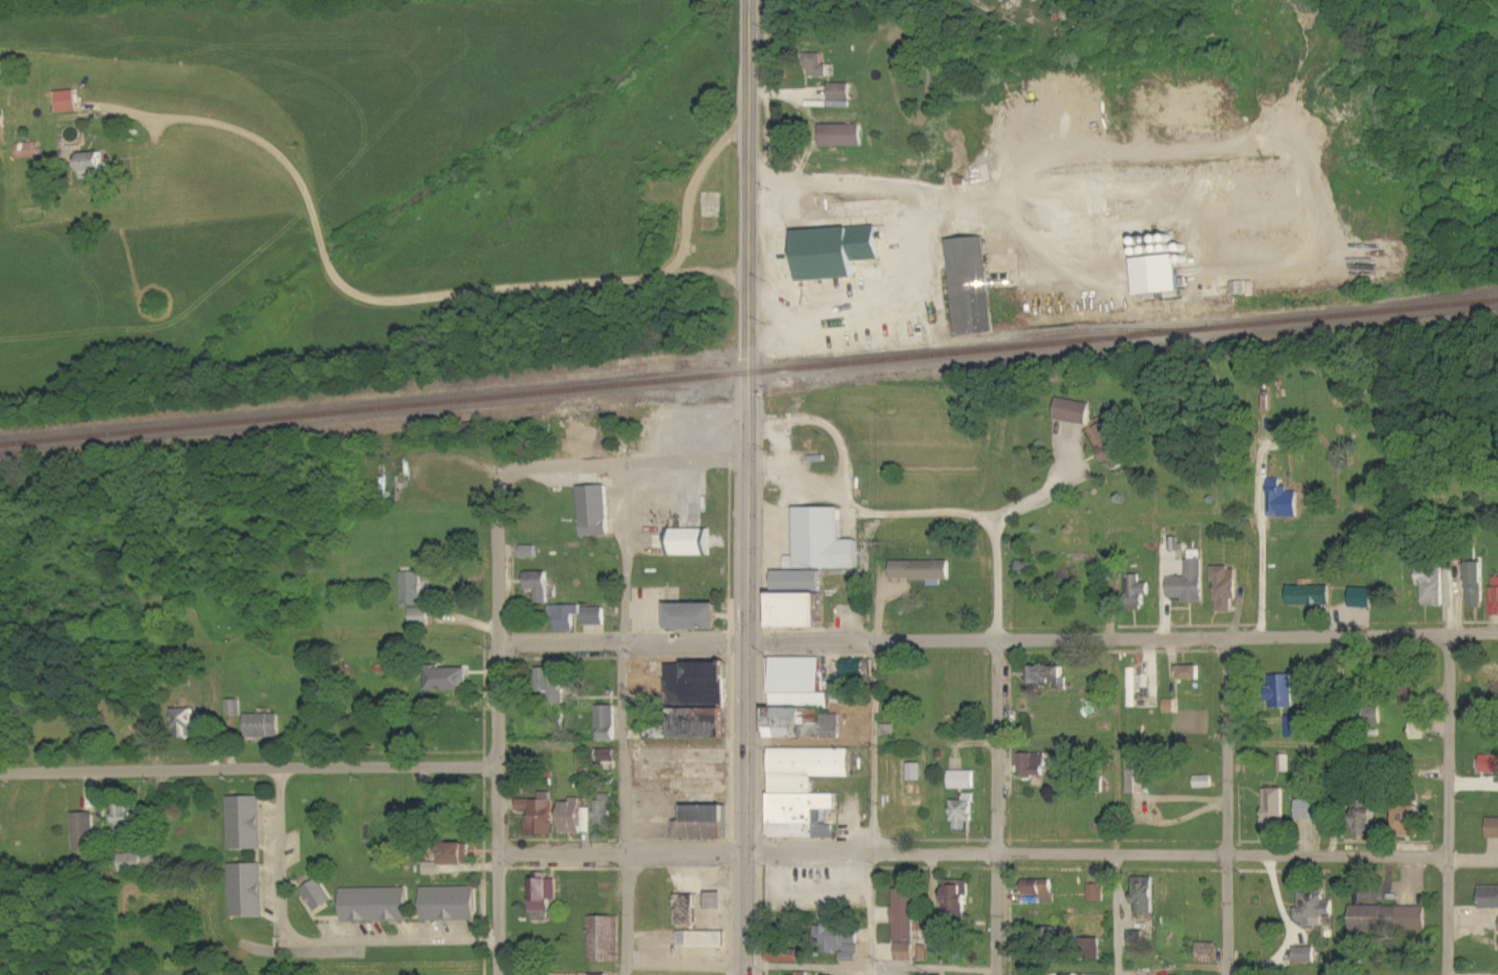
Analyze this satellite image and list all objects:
building: (816, 65)
building: (840, 92)
building: (68, 102)
building: (3, 121)
building: (841, 135)
building: (29, 151)
building: (93, 163)
building: (837, 251)
building: (1160, 274)
building: (970, 286)
road: (420, 296)
railway: (748, 371)
building: (1074, 412)
road: (824, 425)
building: (1109, 444)
road: (775, 447)
road: (623, 464)
road: (740, 487)
road: (1045, 495)
building: (1282, 501)
building: (594, 511)
road: (923, 511)
building: (823, 541)
building: (690, 543)
building: (529, 552)
building: (1025, 565)
building: (923, 571)
road: (1261, 576)
building: (1190, 580)
building: (1477, 585)
building: (540, 586)
building: (1433, 586)
building: (1227, 588)
building: (413, 589)
building: (1137, 593)
building: (1310, 596)
building: (1362, 598)
building: (798, 599)
building: (1495, 601)
road: (499, 613)
building: (695, 616)
building: (421, 617)
building: (566, 617)
building: (595, 617)
road: (1117, 636)
road: (618, 639)
road: (621, 658)
building: (854, 669)
building: (1190, 673)
building: (1051, 676)
building: (449, 679)
building: (552, 684)
building: (1137, 686)
building: (1283, 691)
building: (698, 699)
building: (801, 700)
building: (1170, 706)
building: (234, 708)
building: (1372, 715)
building: (184, 723)
building: (607, 724)
building: (263, 726)
building: (1296, 727)
road: (1441, 742)
road: (996, 745)
road: (1229, 745)
building: (608, 755)
building: (1032, 765)
building: (1489, 765)
road: (252, 768)
building: (916, 772)
building: (1139, 774)
building: (963, 780)
building: (1204, 782)
building: (805, 791)
building: (1275, 804)
road: (872, 806)
building: (1311, 810)
building: (605, 811)
building: (540, 815)
building: (964, 815)
building: (576, 817)
building: (831, 817)
building: (1412, 817)
building: (128, 820)
building: (1367, 820)
building: (245, 824)
building: (704, 824)
building: (1493, 828)
building: (85, 832)
building: (458, 854)
road: (623, 854)
road: (1091, 854)
building: (132, 859)
road: (504, 867)
road: (280, 869)
building: (433, 869)
building: (1041, 889)
building: (247, 891)
building: (544, 892)
building: (1095, 893)
building: (317, 895)
building: (1146, 895)
building: (958, 897)
building: (1489, 898)
building: (448, 904)
building: (375, 905)
building: (1314, 908)
building: (687, 910)
road: (624, 914)
road: (996, 914)
road: (1116, 914)
road: (1228, 914)
road: (1442, 914)
building: (1390, 919)
building: (906, 926)
building: (1136, 936)
building: (604, 939)
building: (703, 939)
road: (411, 942)
building: (840, 943)
building: (1095, 949)
building: (1305, 955)
building: (786, 957)
road: (809, 965)
building: (599, 974)

